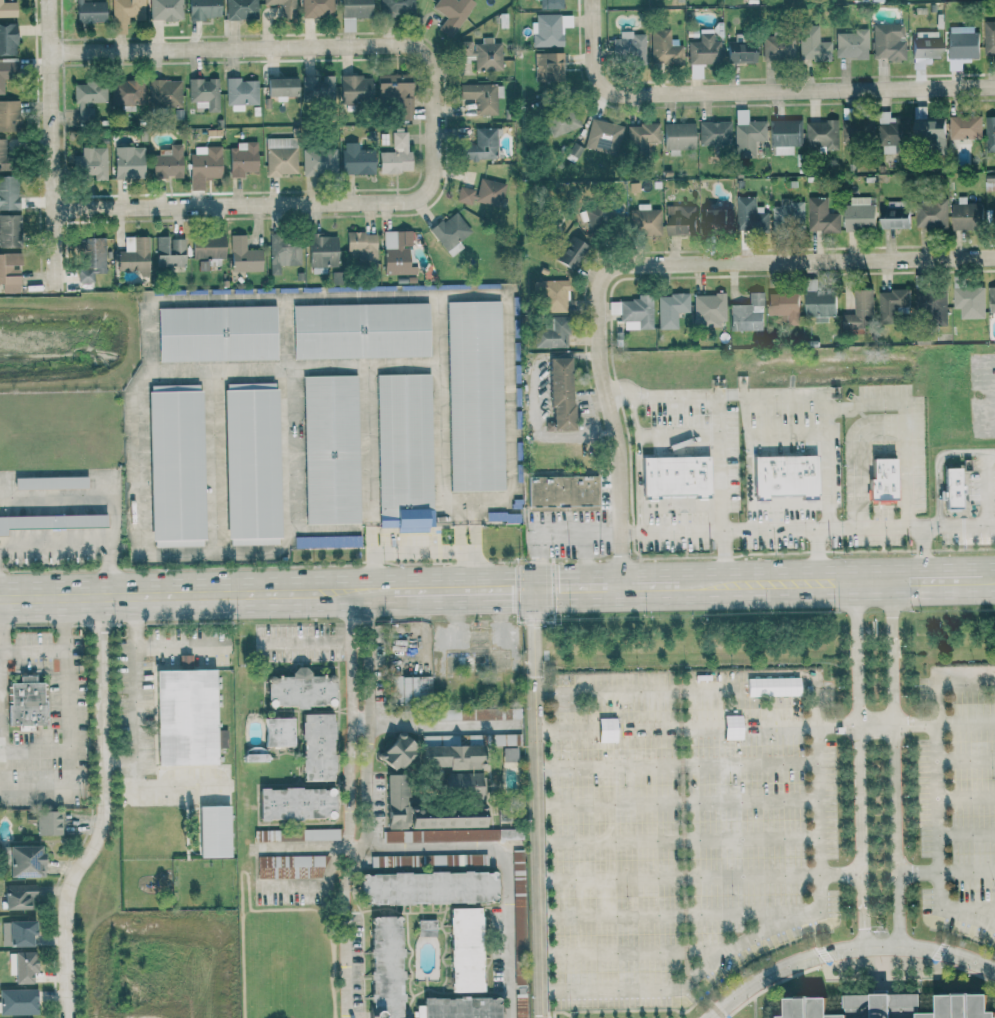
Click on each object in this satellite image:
building: (551, 4)
road: (591, 5)
building: (396, 6)
building: (283, 8)
building: (317, 8)
building: (7, 9)
building: (203, 9)
building: (240, 9)
building: (165, 10)
building: (90, 11)
building: (125, 13)
building: (352, 13)
building: (452, 14)
building: (988, 37)
building: (7, 39)
building: (888, 41)
building: (852, 44)
building: (812, 45)
building: (962, 45)
road: (275, 47)
building: (628, 47)
building: (777, 47)
building: (924, 47)
building: (663, 48)
building: (704, 48)
building: (740, 52)
building: (482, 53)
building: (548, 67)
building: (6, 72)
building: (280, 87)
building: (317, 88)
building: (355, 88)
road: (757, 91)
building: (126, 92)
building: (396, 92)
building: (164, 93)
building: (203, 93)
building: (240, 93)
building: (480, 97)
building: (88, 99)
building: (9, 116)
building: (562, 122)
building: (964, 126)
building: (928, 128)
building: (856, 129)
building: (714, 132)
building: (747, 134)
building: (822, 134)
building: (888, 134)
building: (989, 135)
building: (602, 136)
building: (785, 136)
building: (677, 137)
building: (640, 138)
road: (53, 145)
building: (481, 146)
building: (4, 154)
building: (395, 155)
building: (280, 156)
building: (241, 159)
building: (357, 161)
building: (89, 162)
building: (128, 162)
building: (167, 162)
building: (318, 162)
building: (203, 165)
building: (989, 183)
building: (8, 192)
building: (483, 194)
road: (278, 203)
building: (749, 214)
building: (788, 214)
building: (859, 214)
building: (930, 214)
building: (964, 215)
building: (821, 216)
building: (894, 216)
building: (598, 217)
building: (717, 219)
building: (679, 220)
building: (644, 221)
building: (9, 230)
building: (450, 233)
building: (207, 247)
building: (363, 249)
building: (169, 252)
building: (283, 252)
building: (321, 252)
building: (396, 253)
building: (570, 253)
building: (133, 254)
building: (243, 256)
building: (90, 258)
road: (795, 261)
building: (9, 273)
building: (337, 278)
building: (552, 295)
building: (968, 299)
building: (991, 299)
building: (819, 303)
building: (891, 303)
building: (783, 306)
building: (670, 309)
building: (708, 310)
building: (859, 312)
building: (632, 313)
building: (747, 314)
building: (360, 331)
building: (216, 333)
building: (551, 333)
road: (392, 367)
building: (559, 395)
building: (474, 396)
road: (826, 416)
road: (905, 429)
road: (615, 430)
road: (678, 433)
road: (719, 433)
building: (330, 449)
building: (403, 451)
road: (989, 452)
road: (854, 457)
road: (638, 461)
building: (251, 464)
building: (175, 466)
road: (940, 471)
building: (674, 476)
building: (784, 476)
building: (881, 481)
building: (49, 482)
building: (951, 488)
road: (984, 491)
building: (562, 492)
road: (465, 511)
building: (50, 522)
road: (671, 531)
road: (550, 532)
road: (858, 533)
building: (327, 542)
road: (78, 544)
road: (421, 552)
road: (922, 556)
road: (817, 558)
road: (585, 559)
road: (683, 585)
traffic signals: (533, 588)
road: (360, 590)
road: (174, 594)
road: (349, 615)
road: (306, 641)
road: (177, 646)
road: (34, 649)
road: (945, 683)
road: (694, 686)
building: (411, 688)
building: (300, 691)
building: (25, 702)
building: (463, 714)
building: (185, 718)
road: (69, 723)
road: (441, 724)
road: (765, 724)
road: (370, 728)
road: (136, 731)
building: (279, 732)
building: (503, 739)
building: (318, 747)
building: (400, 752)
building: (508, 754)
building: (255, 757)
building: (454, 757)
road: (120, 758)
road: (965, 759)
road: (893, 763)
road: (860, 764)
road: (676, 765)
building: (455, 786)
building: (397, 791)
road: (966, 797)
parking lot: (959, 798)
road: (677, 802)
building: (297, 803)
road: (536, 803)
road: (104, 812)
building: (48, 822)
parking lot: (685, 827)
road: (347, 829)
building: (213, 830)
building: (509, 834)
road: (966, 834)
building: (296, 835)
building: (440, 835)
road: (678, 839)
road: (938, 843)
road: (302, 845)
building: (22, 859)
building: (517, 865)
building: (289, 866)
road: (504, 867)
road: (946, 871)
road: (700, 876)
road: (303, 885)
building: (430, 888)
building: (18, 896)
road: (972, 908)
road: (674, 913)
building: (519, 920)
building: (428, 927)
road: (764, 928)
building: (16, 932)
road: (844, 948)
building: (467, 949)
road: (634, 951)
building: (22, 966)
building: (388, 967)
building: (17, 1001)
building: (879, 1005)
building: (463, 1008)

